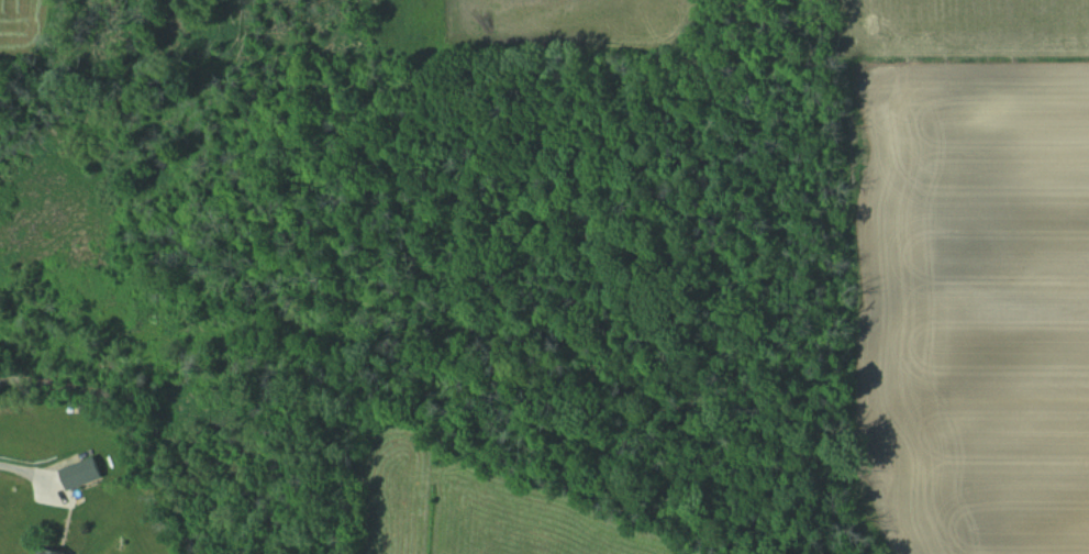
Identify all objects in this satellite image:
road: (26, 469)
building: (81, 473)
building: (49, 552)

